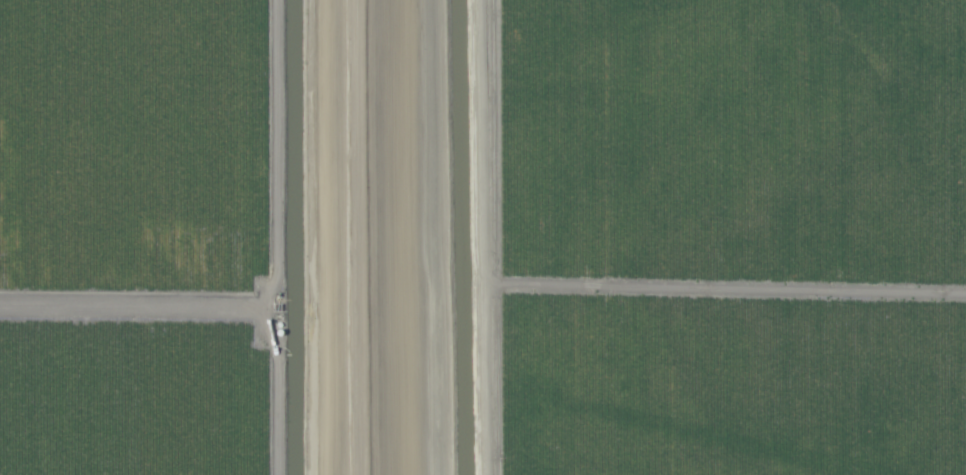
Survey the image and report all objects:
road: (351, 237)
crop: (483, 237)

